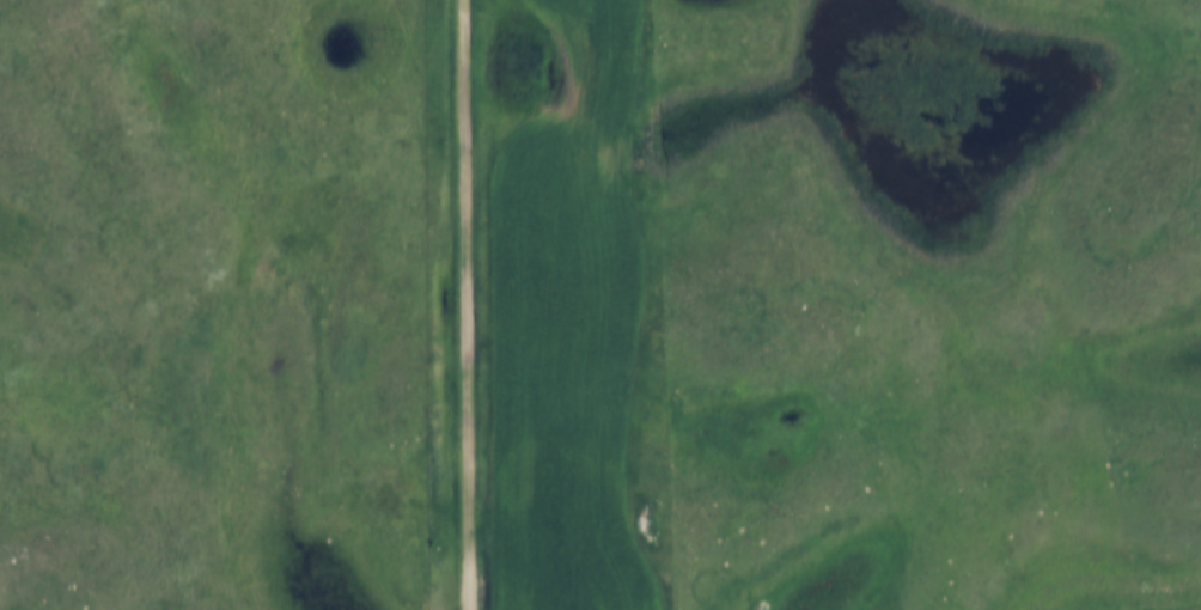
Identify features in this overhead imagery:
road: (463, 305)

